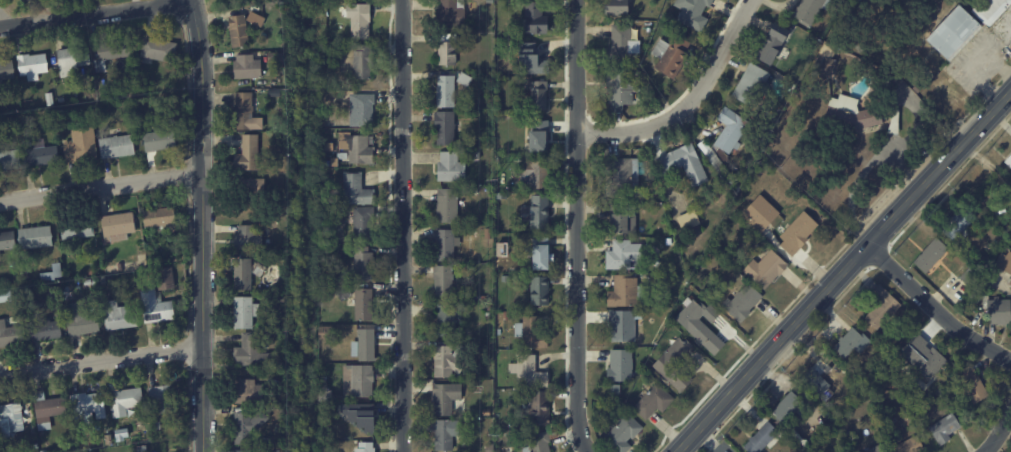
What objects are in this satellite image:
building: (22, 0)
building: (26, 1)
building: (492, 1)
building: (620, 7)
building: (813, 10)
building: (994, 10)
building: (454, 13)
building: (696, 13)
road: (95, 15)
building: (258, 18)
building: (360, 19)
building: (537, 19)
building: (241, 31)
building: (955, 33)
building: (775, 43)
building: (623, 45)
building: (160, 50)
building: (450, 50)
building: (113, 52)
building: (674, 55)
building: (278, 59)
building: (74, 60)
building: (828, 60)
building: (534, 61)
building: (365, 62)
building: (34, 65)
building: (249, 67)
building: (7, 70)
building: (755, 85)
building: (338, 86)
building: (887, 86)
building: (453, 89)
building: (623, 89)
building: (539, 94)
road: (911, 98)
road: (690, 103)
building: (360, 107)
building: (246, 111)
building: (854, 115)
building: (898, 122)
building: (326, 125)
building: (276, 127)
building: (448, 128)
building: (540, 136)
building: (30, 138)
building: (162, 141)
building: (730, 143)
building: (119, 146)
building: (82, 147)
building: (360, 148)
building: (330, 150)
building: (250, 154)
building: (43, 155)
building: (10, 158)
building: (1008, 161)
building: (687, 164)
building: (453, 168)
road: (862, 172)
building: (539, 173)
building: (624, 178)
power tower: (494, 179)
road: (100, 186)
building: (255, 188)
building: (356, 190)
building: (504, 194)
building: (449, 206)
building: (540, 212)
building: (759, 213)
building: (163, 219)
building: (626, 220)
building: (692, 221)
building: (365, 223)
road: (200, 225)
road: (402, 226)
road: (577, 226)
building: (957, 226)
building: (120, 227)
building: (78, 229)
building: (801, 233)
building: (37, 238)
building: (250, 238)
building: (8, 241)
building: (671, 242)
building: (448, 245)
building: (545, 255)
building: (626, 255)
building: (928, 255)
building: (473, 257)
building: (1003, 263)
building: (366, 265)
building: (769, 270)
road: (841, 271)
building: (250, 272)
building: (54, 274)
building: (166, 279)
building: (446, 281)
building: (5, 283)
building: (1009, 284)
building: (28, 292)
building: (344, 292)
building: (542, 292)
building: (626, 292)
building: (976, 294)
building: (8, 296)
building: (282, 299)
building: (745, 303)
building: (366, 306)
building: (880, 306)
building: (158, 308)
building: (490, 308)
road: (933, 308)
building: (996, 310)
building: (247, 313)
building: (120, 316)
building: (490, 316)
building: (971, 316)
building: (451, 320)
building: (84, 324)
building: (630, 324)
building: (702, 327)
building: (48, 330)
building: (327, 333)
building: (534, 333)
building: (10, 336)
building: (509, 341)
building: (848, 342)
building: (369, 346)
building: (253, 352)
road: (100, 359)
building: (451, 361)
building: (923, 362)
building: (894, 364)
building: (677, 366)
building: (623, 367)
building: (532, 373)
building: (886, 374)
building: (816, 379)
building: (360, 382)
building: (970, 383)
building: (250, 393)
building: (165, 399)
building: (448, 399)
building: (127, 402)
building: (657, 402)
building: (784, 406)
building: (90, 407)
building: (540, 409)
building: (50, 410)
building: (489, 414)
building: (908, 416)
building: (13, 417)
building: (363, 423)
building: (157, 426)
building: (250, 427)
building: (329, 428)
building: (118, 429)
building: (943, 429)
road: (999, 432)
power tower: (494, 434)
building: (626, 434)
building: (448, 435)
building: (760, 438)
building: (109, 439)
building: (42, 441)
building: (542, 442)
building: (906, 445)
building: (368, 447)
building: (492, 448)
building: (873, 448)
building: (144, 449)
building: (341, 450)
building: (245, 451)

